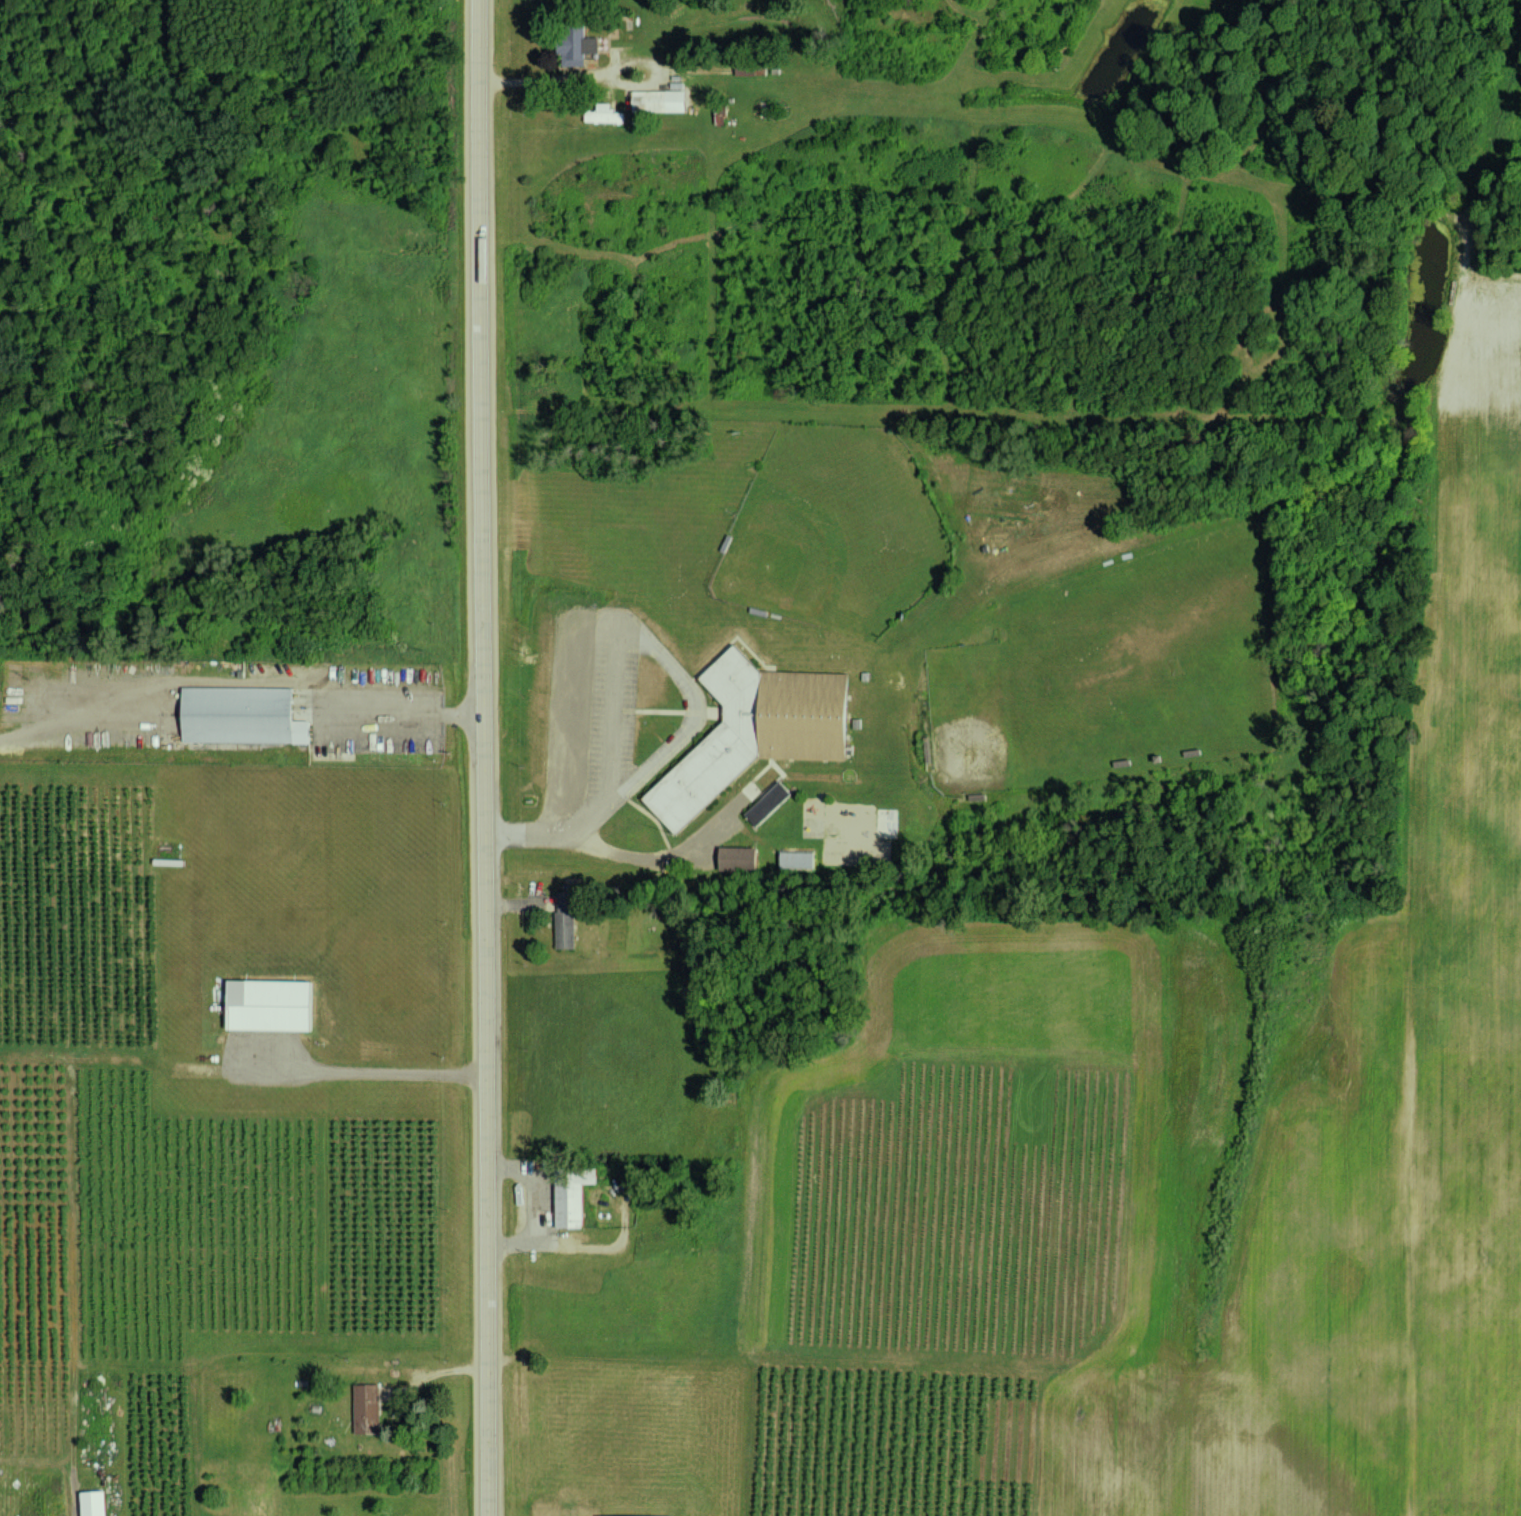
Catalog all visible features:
building: (576, 51)
road: (601, 75)
building: (662, 101)
building: (604, 114)
park: (833, 534)
road: (693, 707)
road: (405, 712)
building: (246, 716)
building: (758, 732)
road: (486, 757)
building: (772, 803)
building: (742, 859)
road: (654, 860)
building: (802, 860)
building: (567, 920)
building: (275, 1005)
building: (572, 1202)
building: (370, 1409)
building: (98, 1503)
building: (650, 1515)

